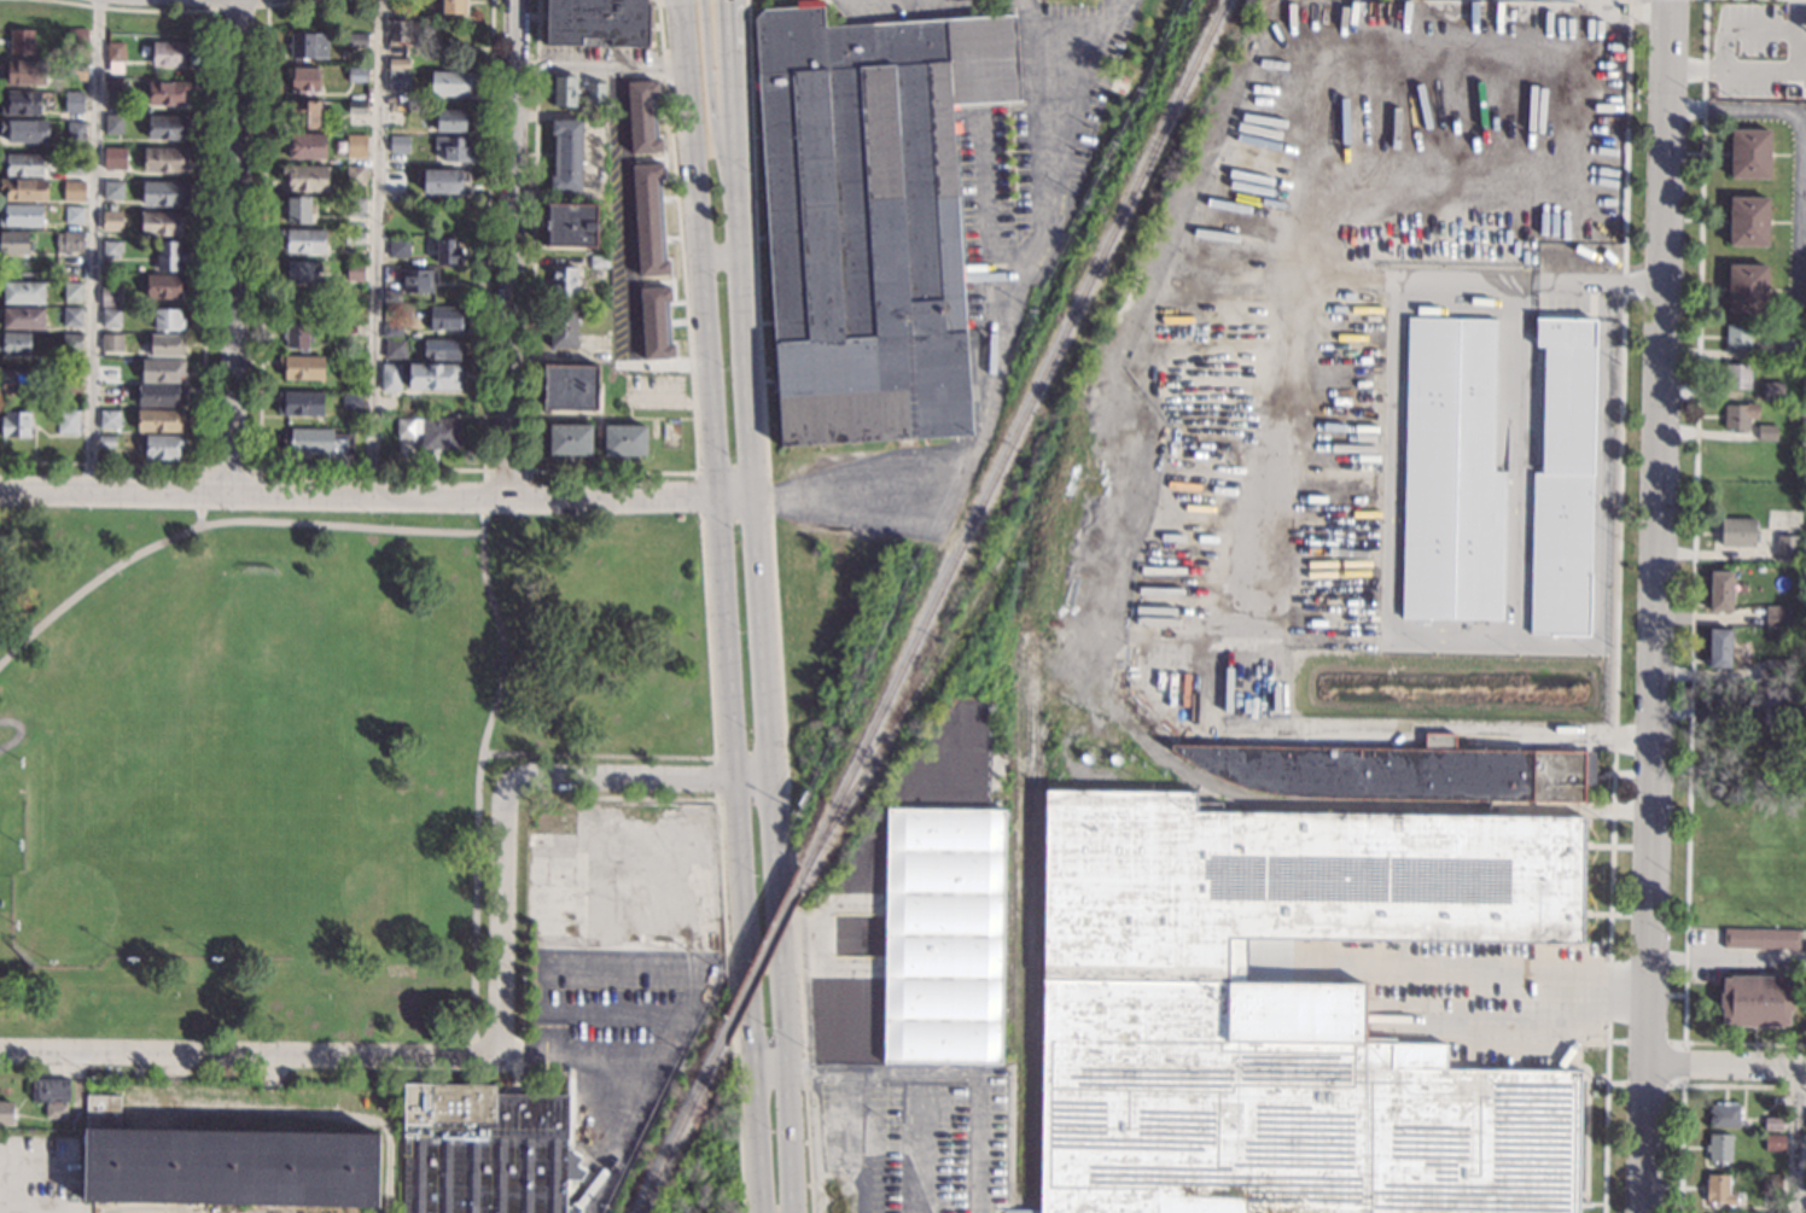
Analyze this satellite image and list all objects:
traffic signals: (1668, 0)
building: (401, 6)
building: (454, 6)
road: (678, 6)
road: (237, 7)
building: (598, 23)
road: (728, 24)
building: (401, 31)
road: (1051, 33)
building: (77, 37)
building: (357, 39)
building: (22, 40)
building: (309, 46)
building: (115, 52)
building: (169, 53)
building: (398, 64)
road: (600, 69)
building: (76, 70)
building: (23, 72)
building: (357, 74)
building: (303, 78)
building: (398, 81)
building: (450, 82)
building: (565, 91)
building: (112, 92)
building: (167, 92)
building: (595, 92)
building: (75, 100)
building: (21, 103)
road: (711, 103)
building: (356, 107)
building: (303, 113)
building: (642, 116)
building: (450, 121)
building: (113, 123)
building: (165, 127)
building: (75, 129)
building: (24, 130)
road: (1801, 135)
building: (398, 144)
building: (356, 145)
building: (307, 146)
building: (454, 147)
building: (1750, 153)
building: (566, 154)
building: (115, 158)
building: (164, 159)
building: (22, 164)
building: (76, 164)
building: (355, 175)
building: (305, 177)
building: (445, 180)
building: (394, 181)
building: (24, 188)
building: (113, 189)
building: (74, 191)
building: (164, 193)
building: (112, 206)
building: (356, 206)
building: (298, 209)
building: (396, 214)
road: (1036, 214)
building: (21, 215)
building: (74, 215)
building: (111, 220)
building: (649, 220)
building: (869, 220)
building: (1748, 221)
building: (162, 222)
building: (571, 224)
building: (354, 237)
building: (303, 240)
building: (69, 241)
building: (13, 243)
road: (94, 245)
road: (234, 245)
road: (374, 246)
building: (398, 247)
building: (111, 249)
road: (511, 249)
building: (448, 251)
road: (633, 252)
road: (722, 252)
building: (169, 256)
road: (204, 256)
building: (599, 261)
building: (302, 270)
building: (355, 270)
building: (418, 280)
building: (564, 280)
road: (1514, 281)
building: (164, 285)
building: (1747, 288)
building: (72, 291)
building: (23, 292)
building: (353, 294)
building: (391, 296)
building: (110, 297)
building: (297, 299)
building: (72, 316)
building: (23, 317)
building: (110, 317)
building: (444, 317)
building: (168, 320)
building: (656, 322)
building: (563, 327)
building: (392, 330)
building: (297, 336)
building: (1738, 337)
building: (71, 342)
building: (111, 342)
building: (14, 344)
building: (165, 345)
building: (1789, 348)
building: (395, 349)
building: (441, 349)
building: (302, 367)
building: (162, 369)
building: (435, 375)
building: (1737, 375)
building: (390, 377)
building: (17, 381)
building: (71, 381)
building: (570, 387)
building: (110, 390)
building: (1773, 390)
building: (159, 395)
building: (351, 401)
building: (301, 403)
building: (1804, 409)
building: (1736, 416)
building: (109, 419)
building: (161, 420)
building: (68, 421)
building: (16, 424)
building: (672, 427)
building: (1805, 430)
railway: (1016, 431)
building: (430, 432)
building: (1766, 432)
building: (570, 439)
building: (106, 441)
building: (317, 441)
building: (625, 441)
building: (163, 445)
building: (1736, 456)
road: (206, 466)
road: (350, 468)
road: (482, 471)
building: (1771, 471)
road: (613, 472)
road: (705, 472)
building: (1451, 474)
building: (1563, 477)
building: (1345, 482)
road: (873, 484)
road: (374, 495)
road: (200, 519)
road: (441, 530)
building: (1737, 532)
road: (181, 536)
building: (1787, 548)
road: (483, 552)
building: (1720, 590)
road: (726, 606)
road: (773, 606)
road: (1616, 606)
road: (1658, 606)
building: (1776, 616)
road: (758, 631)
park: (252, 638)
building: (1718, 648)
building: (1775, 669)
road: (500, 672)
road: (1251, 682)
railway: (913, 698)
building: (1779, 707)
park: (308, 745)
road: (712, 757)
railway: (1178, 766)
building: (1400, 771)
road: (637, 780)
road: (713, 780)
railway: (1010, 787)
building: (642, 811)
railway: (803, 873)
park: (104, 880)
building: (550, 885)
road: (721, 911)
road: (502, 919)
building: (943, 928)
building: (1760, 938)
railway: (762, 957)
road: (1728, 958)
building: (400, 970)
road: (1486, 976)
road: (346, 992)
road: (474, 1001)
building: (1755, 1001)
building: (404, 1008)
building: (1284, 1011)
road: (249, 1052)
road: (662, 1054)
road: (773, 1060)
road: (1728, 1069)
building: (52, 1096)
building: (5, 1113)
building: (1724, 1115)
building: (1772, 1122)
railway: (678, 1133)
road: (629, 1136)
road: (1796, 1142)
building: (1773, 1143)
building: (1719, 1148)
building: (485, 1153)
building: (225, 1165)
railway: (389, 1166)
building: (1771, 1184)
building: (1719, 1189)

